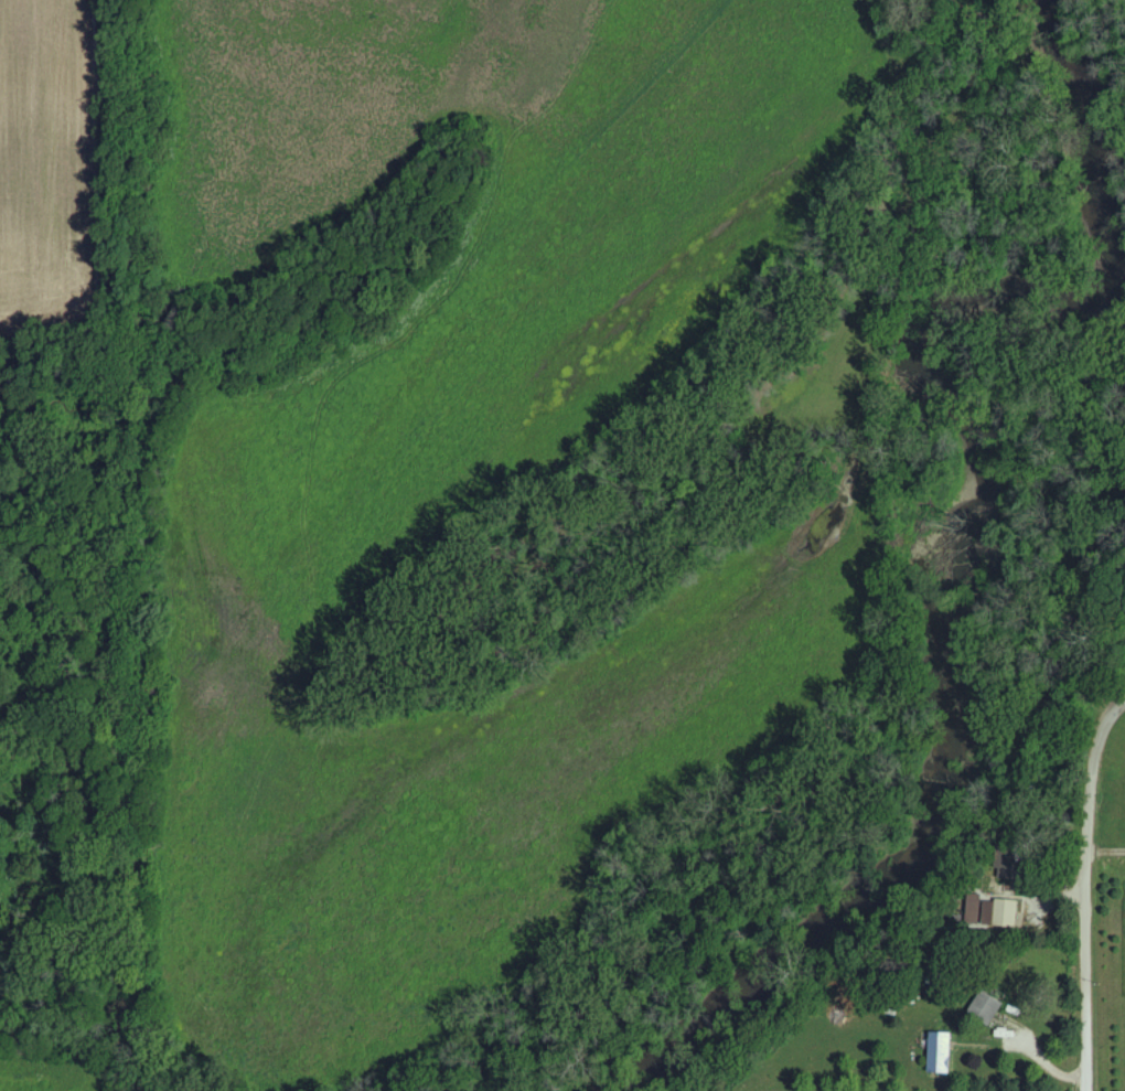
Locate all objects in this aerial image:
park: (1104, 755)
road: (1082, 890)
building: (976, 911)
building: (1003, 914)
building: (988, 1008)
building: (943, 1053)

